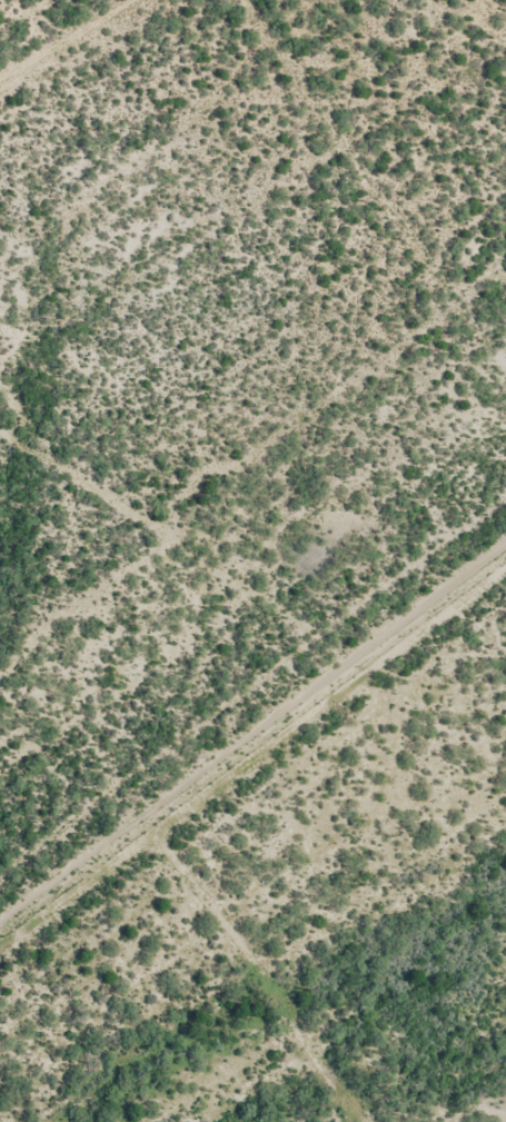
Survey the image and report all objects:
road: (63, 38)
road: (252, 757)

